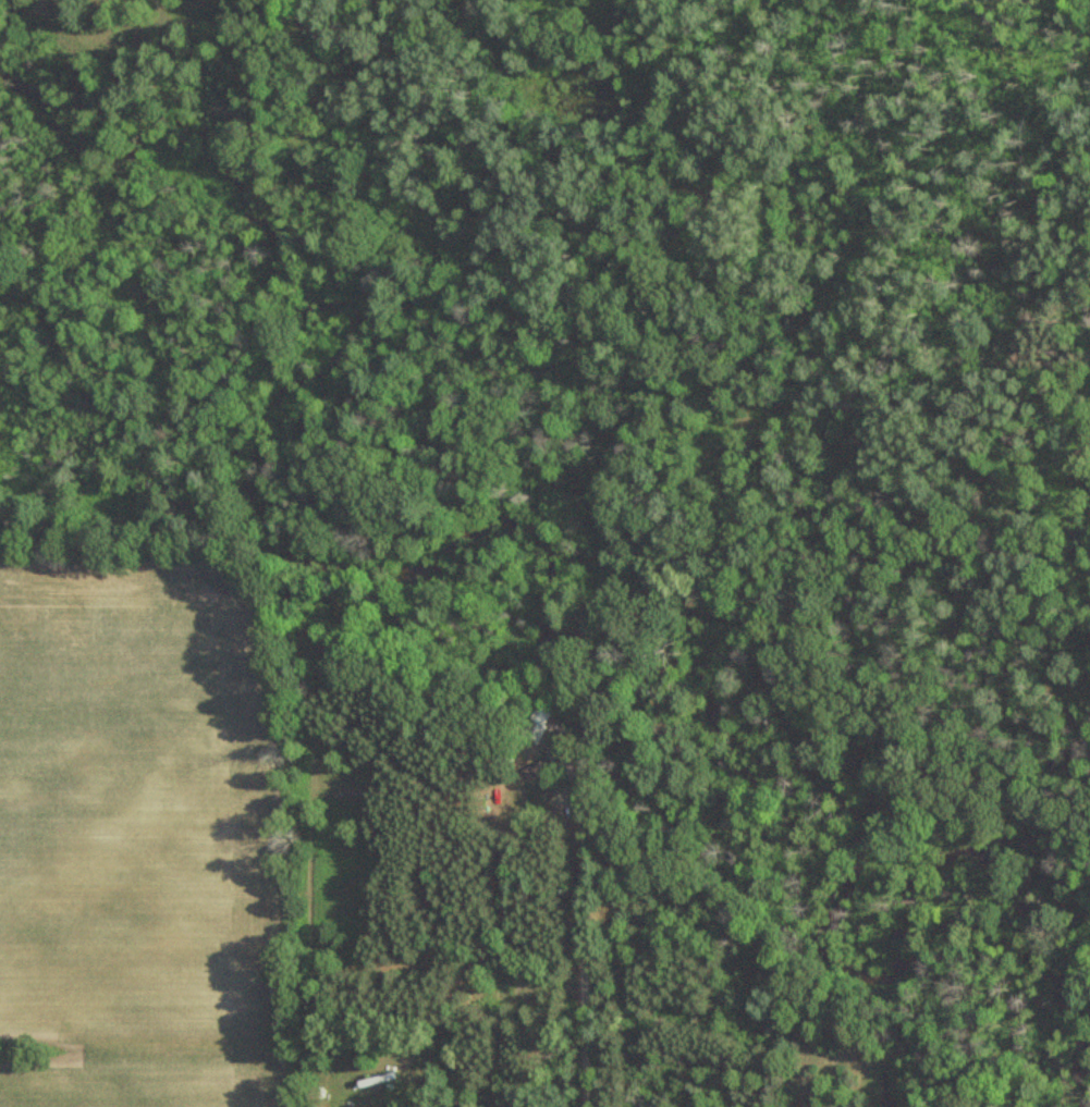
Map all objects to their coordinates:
road: (584, 1028)

